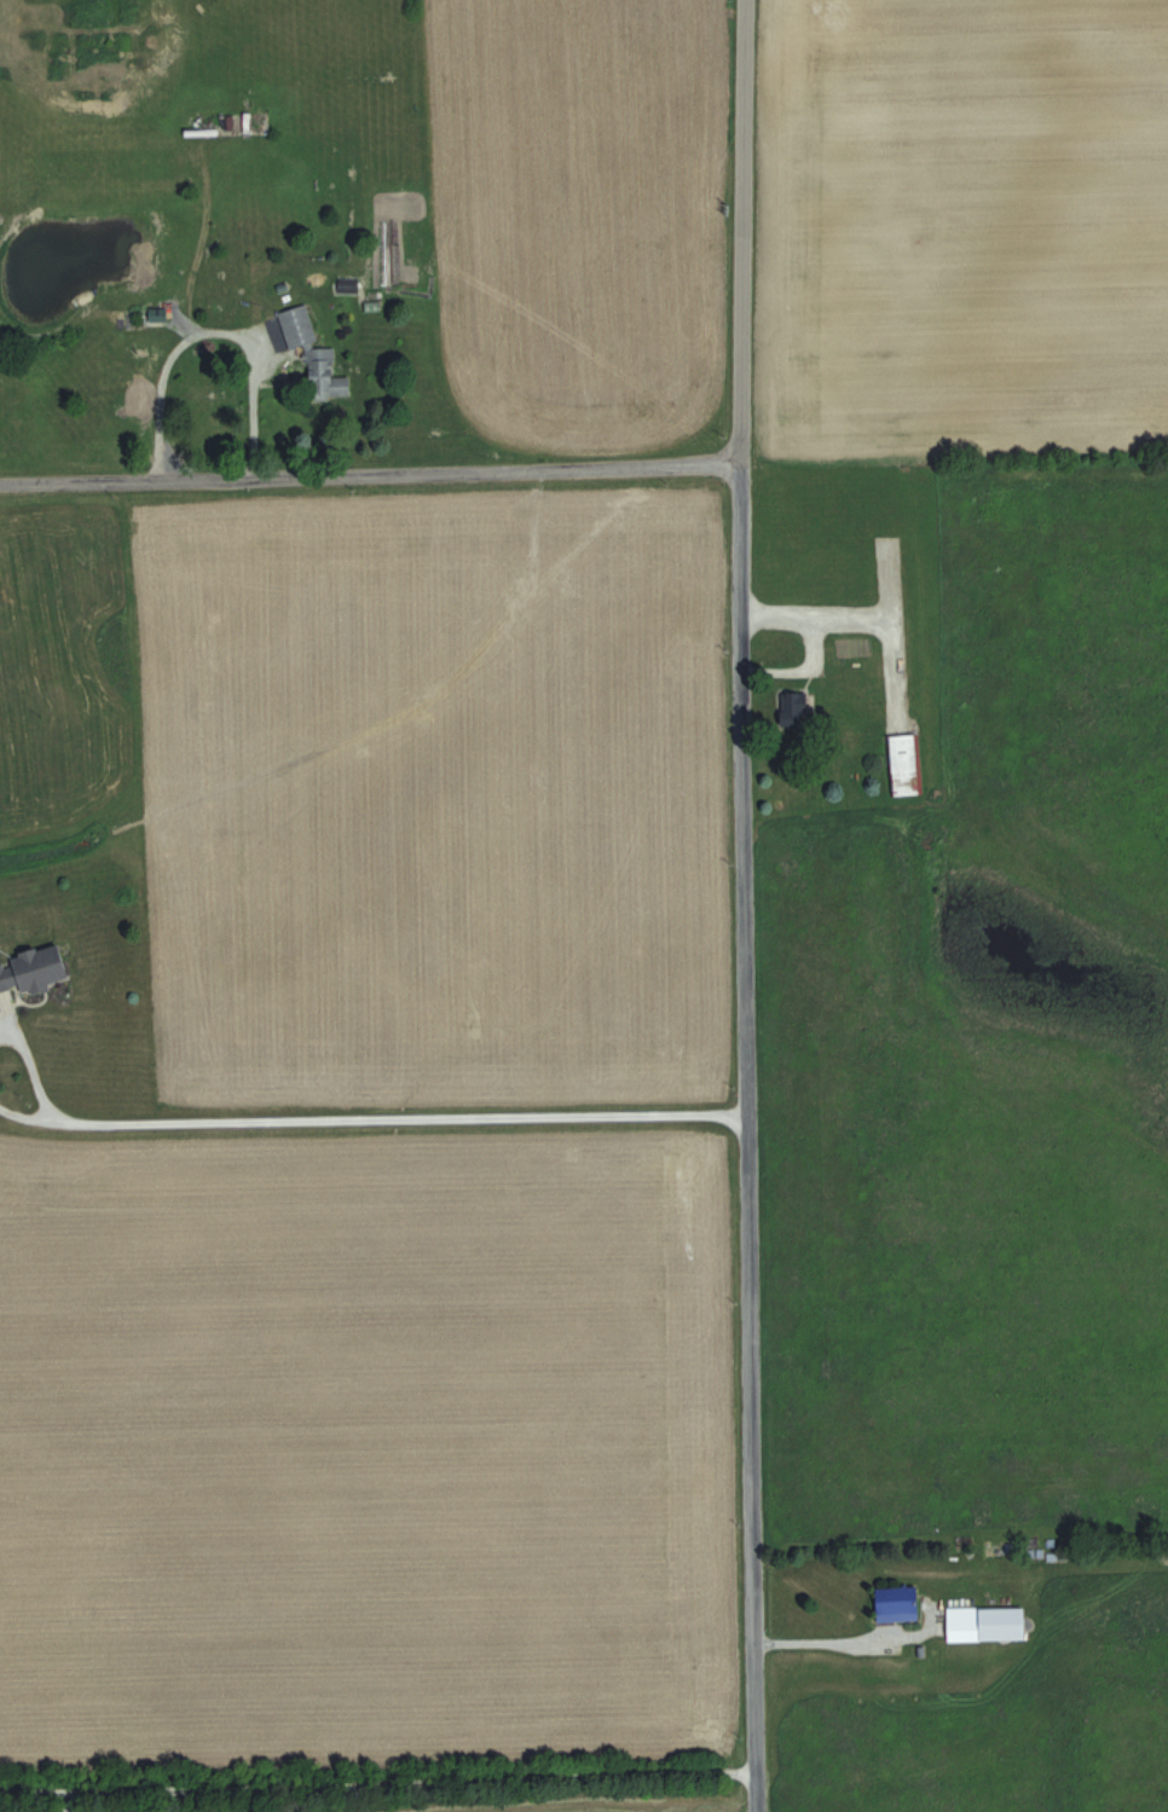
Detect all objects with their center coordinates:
road: (739, 235)
road: (210, 334)
building: (314, 357)
road: (368, 479)
road: (784, 625)
building: (794, 710)
building: (904, 764)
building: (34, 968)
road: (12, 1098)
road: (380, 1118)
road: (744, 1140)
building: (898, 1602)
building: (987, 1622)
road: (851, 1640)
road: (377, 1784)
road: (67, 1801)

